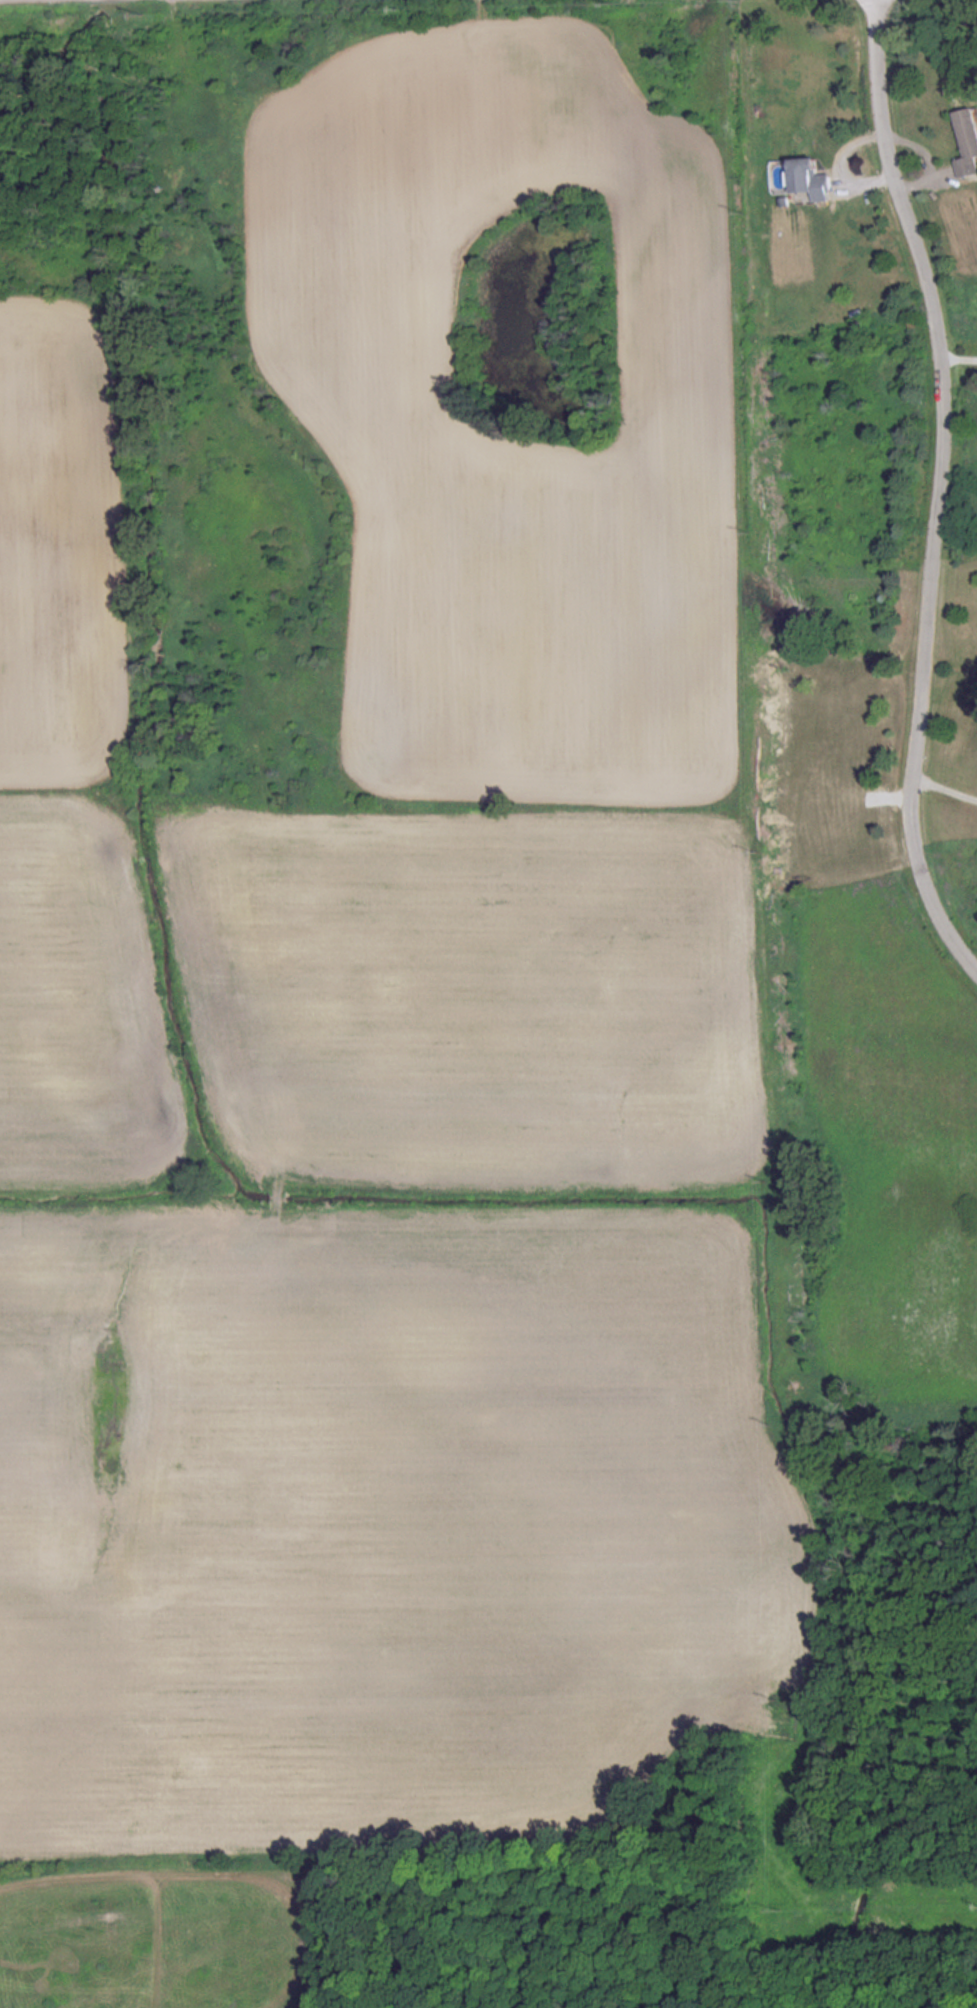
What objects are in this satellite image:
building: (967, 141)
building: (810, 178)
road: (960, 354)
road: (942, 483)
road: (947, 787)

